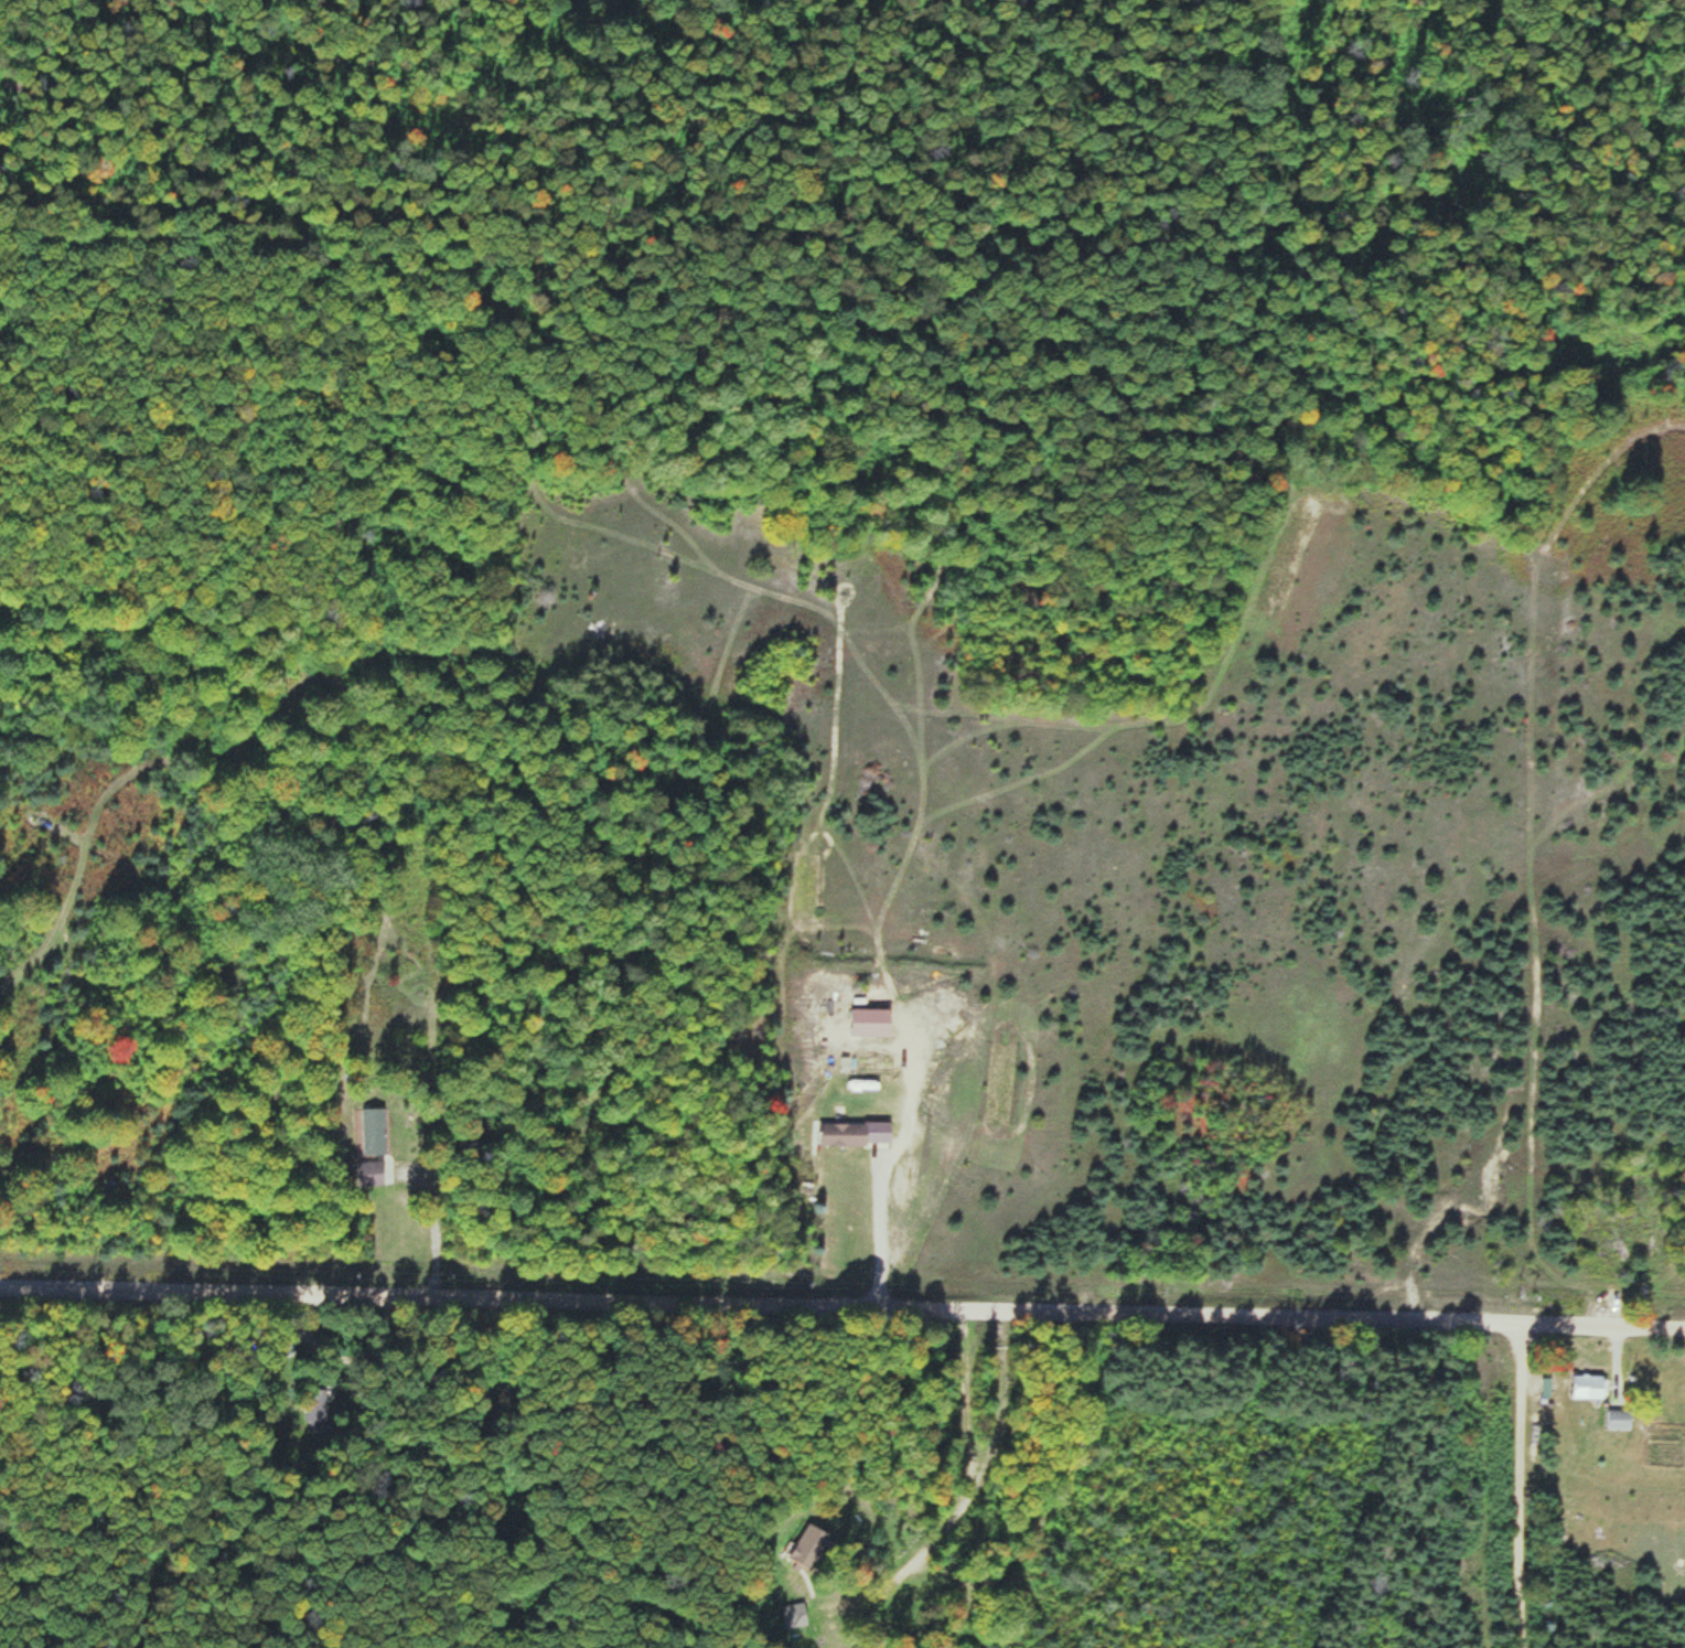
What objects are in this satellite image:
building: (870, 1021)
building: (373, 1131)
building: (855, 1133)
building: (369, 1173)
road: (841, 1306)
building: (1588, 1385)
building: (1618, 1419)
road: (1521, 1485)
road: (970, 1487)
building: (921, 1599)
building: (794, 1620)

